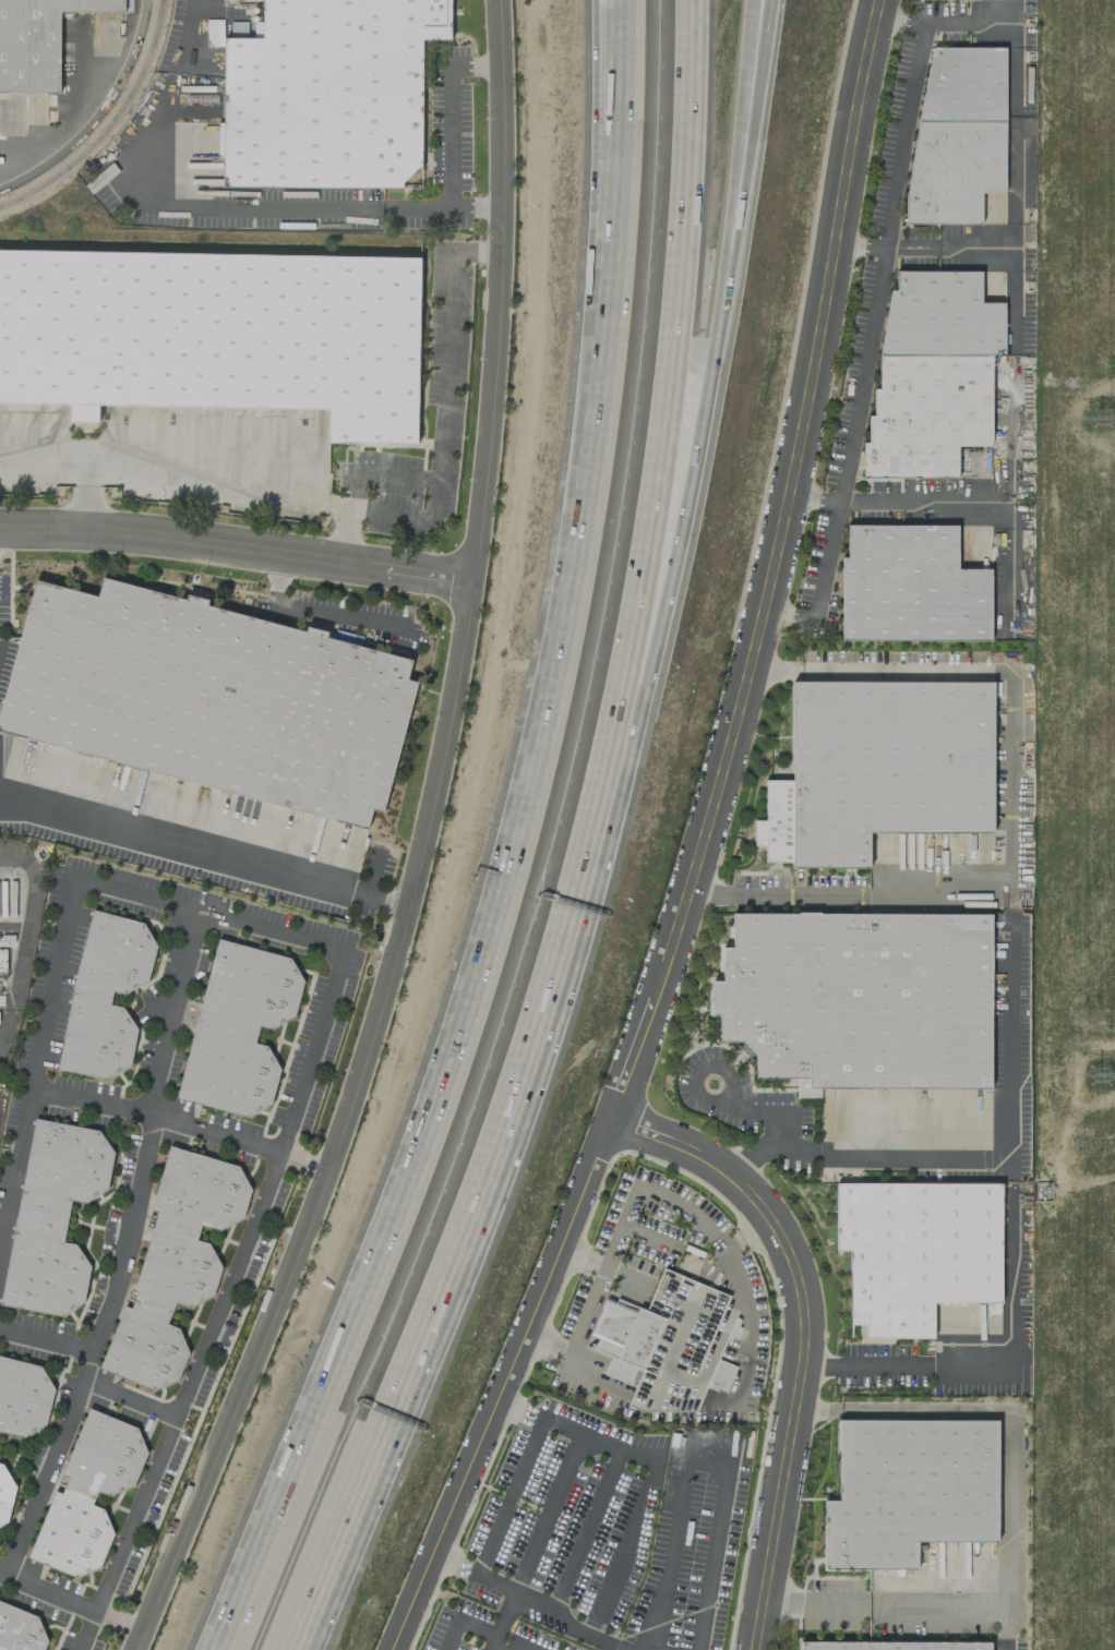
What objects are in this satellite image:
road: (967, 22)
building: (213, 32)
building: (36, 40)
road: (753, 47)
road: (758, 47)
road: (1012, 51)
building: (328, 92)
road: (93, 106)
road: (603, 106)
road: (616, 106)
road: (907, 111)
road: (448, 112)
railway: (110, 127)
building: (957, 135)
road: (214, 205)
road: (1011, 225)
road: (886, 246)
road: (609, 269)
road: (720, 293)
building: (216, 333)
building: (932, 374)
road: (660, 399)
road: (856, 399)
power tower: (1106, 419)
road: (441, 426)
road: (43, 453)
road: (144, 456)
road: (375, 471)
road: (981, 509)
road: (237, 544)
road: (774, 565)
road: (1010, 574)
building: (909, 587)
road: (307, 609)
road: (643, 645)
road: (988, 671)
building: (209, 698)
building: (876, 768)
road: (418, 846)
road: (203, 847)
road: (507, 850)
road: (26, 936)
road: (1011, 990)
road: (329, 993)
building: (104, 996)
building: (859, 997)
building: (237, 1028)
power tower: (1102, 1079)
fountain: (710, 1082)
road: (697, 1096)
road: (180, 1117)
road: (772, 1130)
road: (639, 1190)
building: (52, 1217)
road: (456, 1228)
road: (122, 1245)
building: (913, 1249)
building: (173, 1265)
road: (586, 1308)
road: (47, 1335)
road: (805, 1336)
building: (668, 1344)
road: (1008, 1363)
road: (504, 1384)
road: (736, 1392)
building: (22, 1397)
road: (127, 1398)
road: (651, 1450)
road: (562, 1472)
road: (1010, 1476)
building: (908, 1488)
building: (4, 1493)
building: (87, 1494)
road: (275, 1502)
road: (709, 1557)
road: (70, 1599)
road: (529, 1600)
road: (815, 1604)
road: (495, 1624)
road: (1003, 1627)
building: (20, 1629)
road: (485, 1646)
building: (892, 1646)

